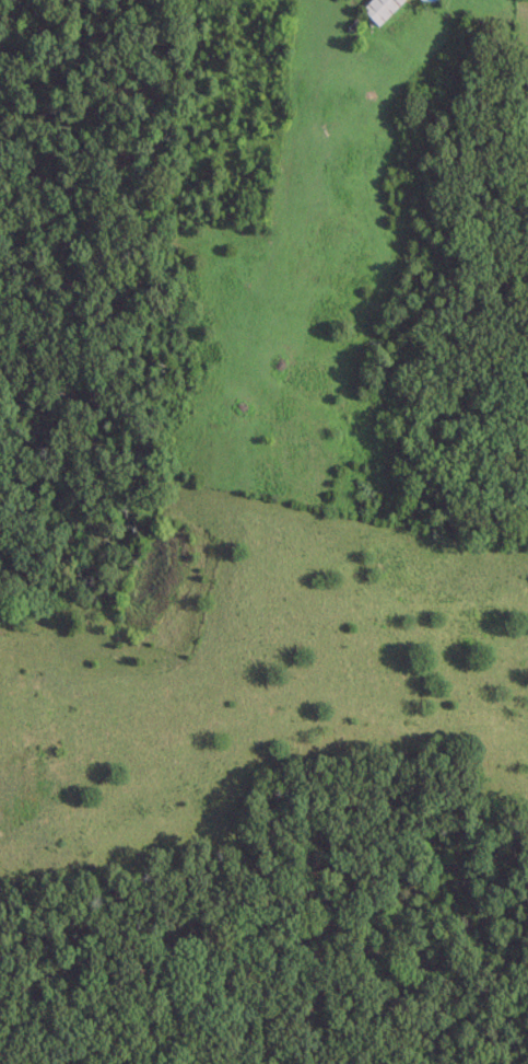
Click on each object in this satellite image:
building: (378, 9)

